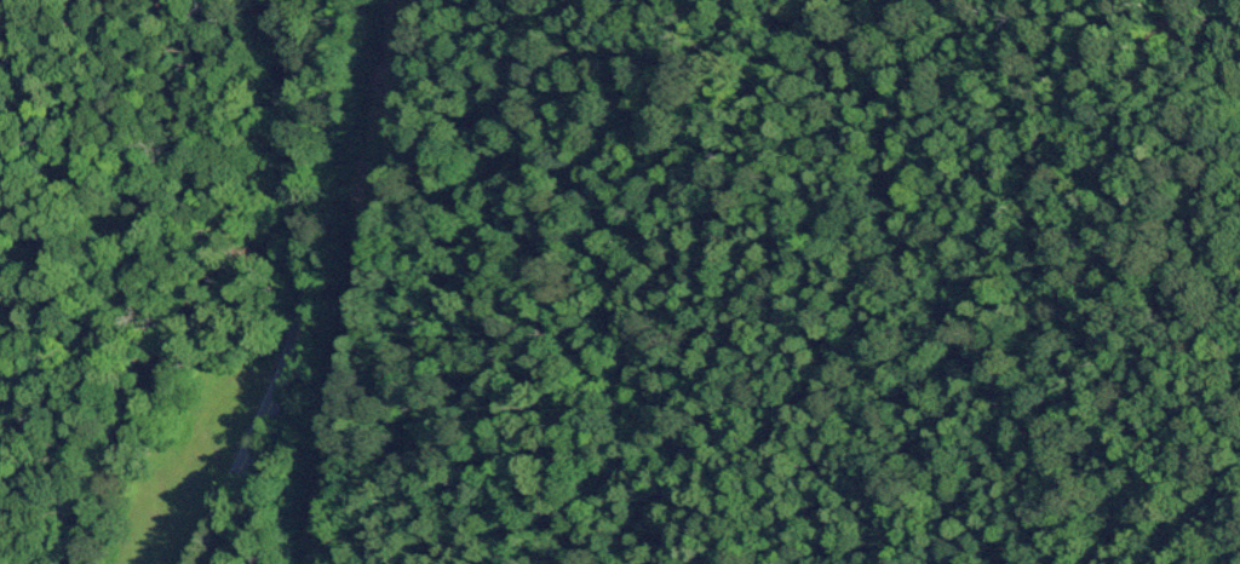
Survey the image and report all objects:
road: (300, 292)

